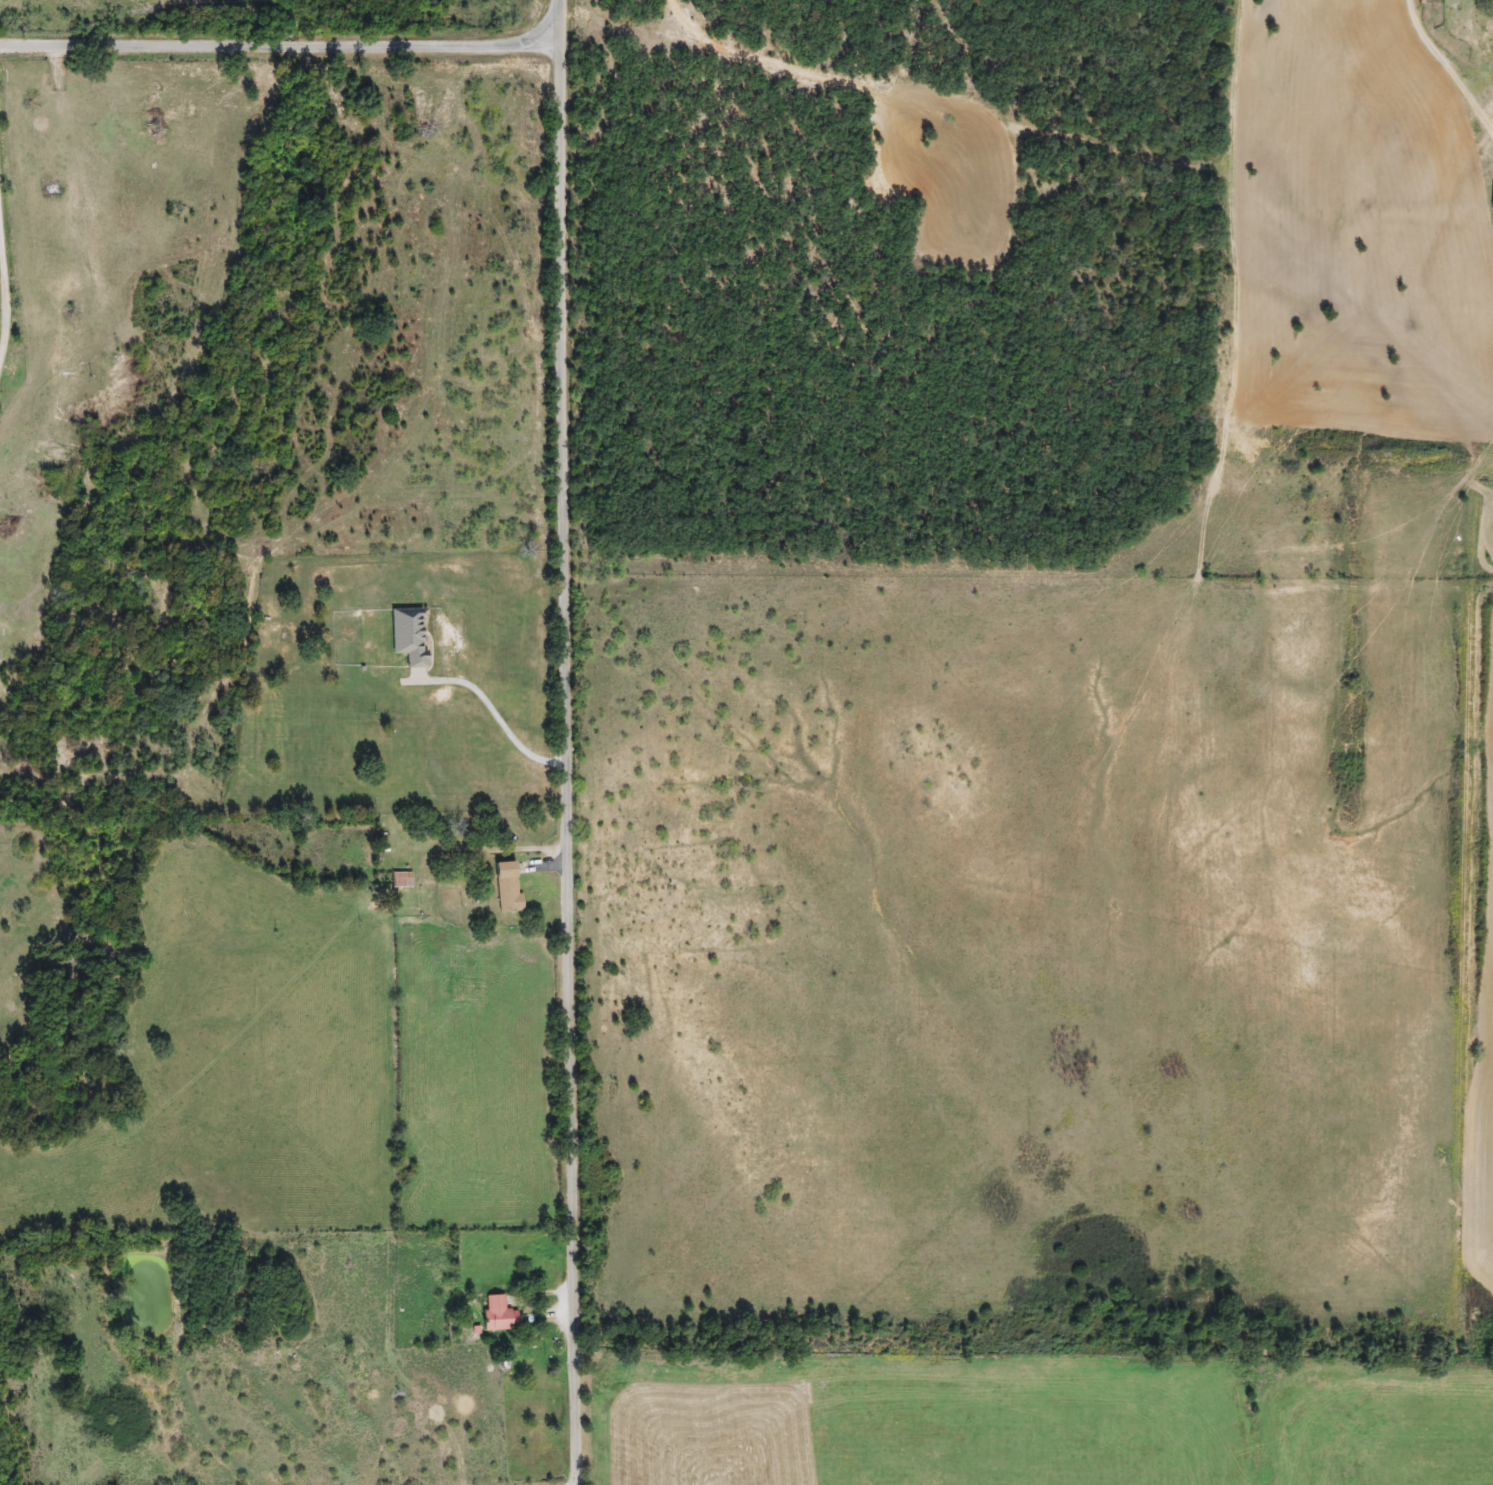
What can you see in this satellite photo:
road: (276, 49)
road: (1449, 64)
building: (1490, 197)
road: (3, 300)
building: (406, 636)
road: (498, 719)
road: (564, 742)
building: (400, 881)
building: (505, 888)
building: (496, 1314)

